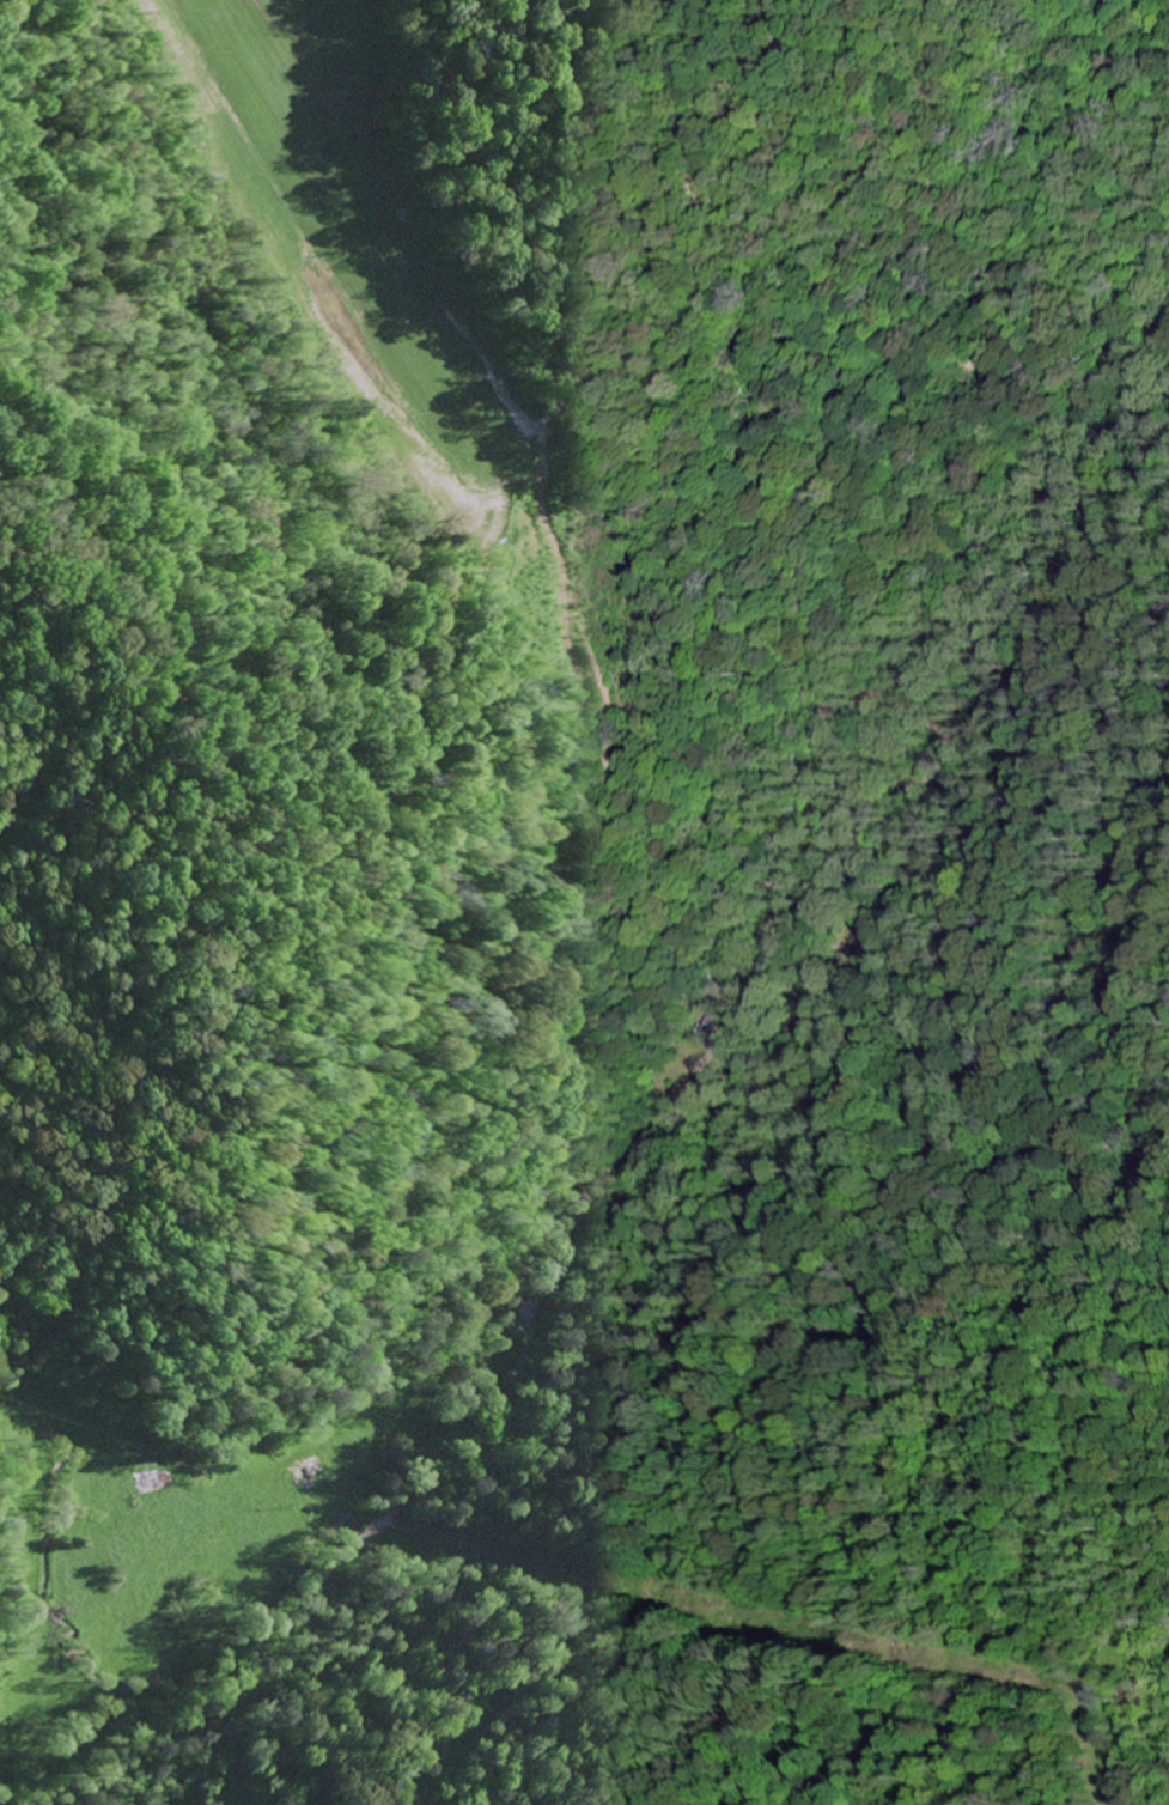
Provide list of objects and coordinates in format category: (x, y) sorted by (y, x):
road: (718, 1175)

